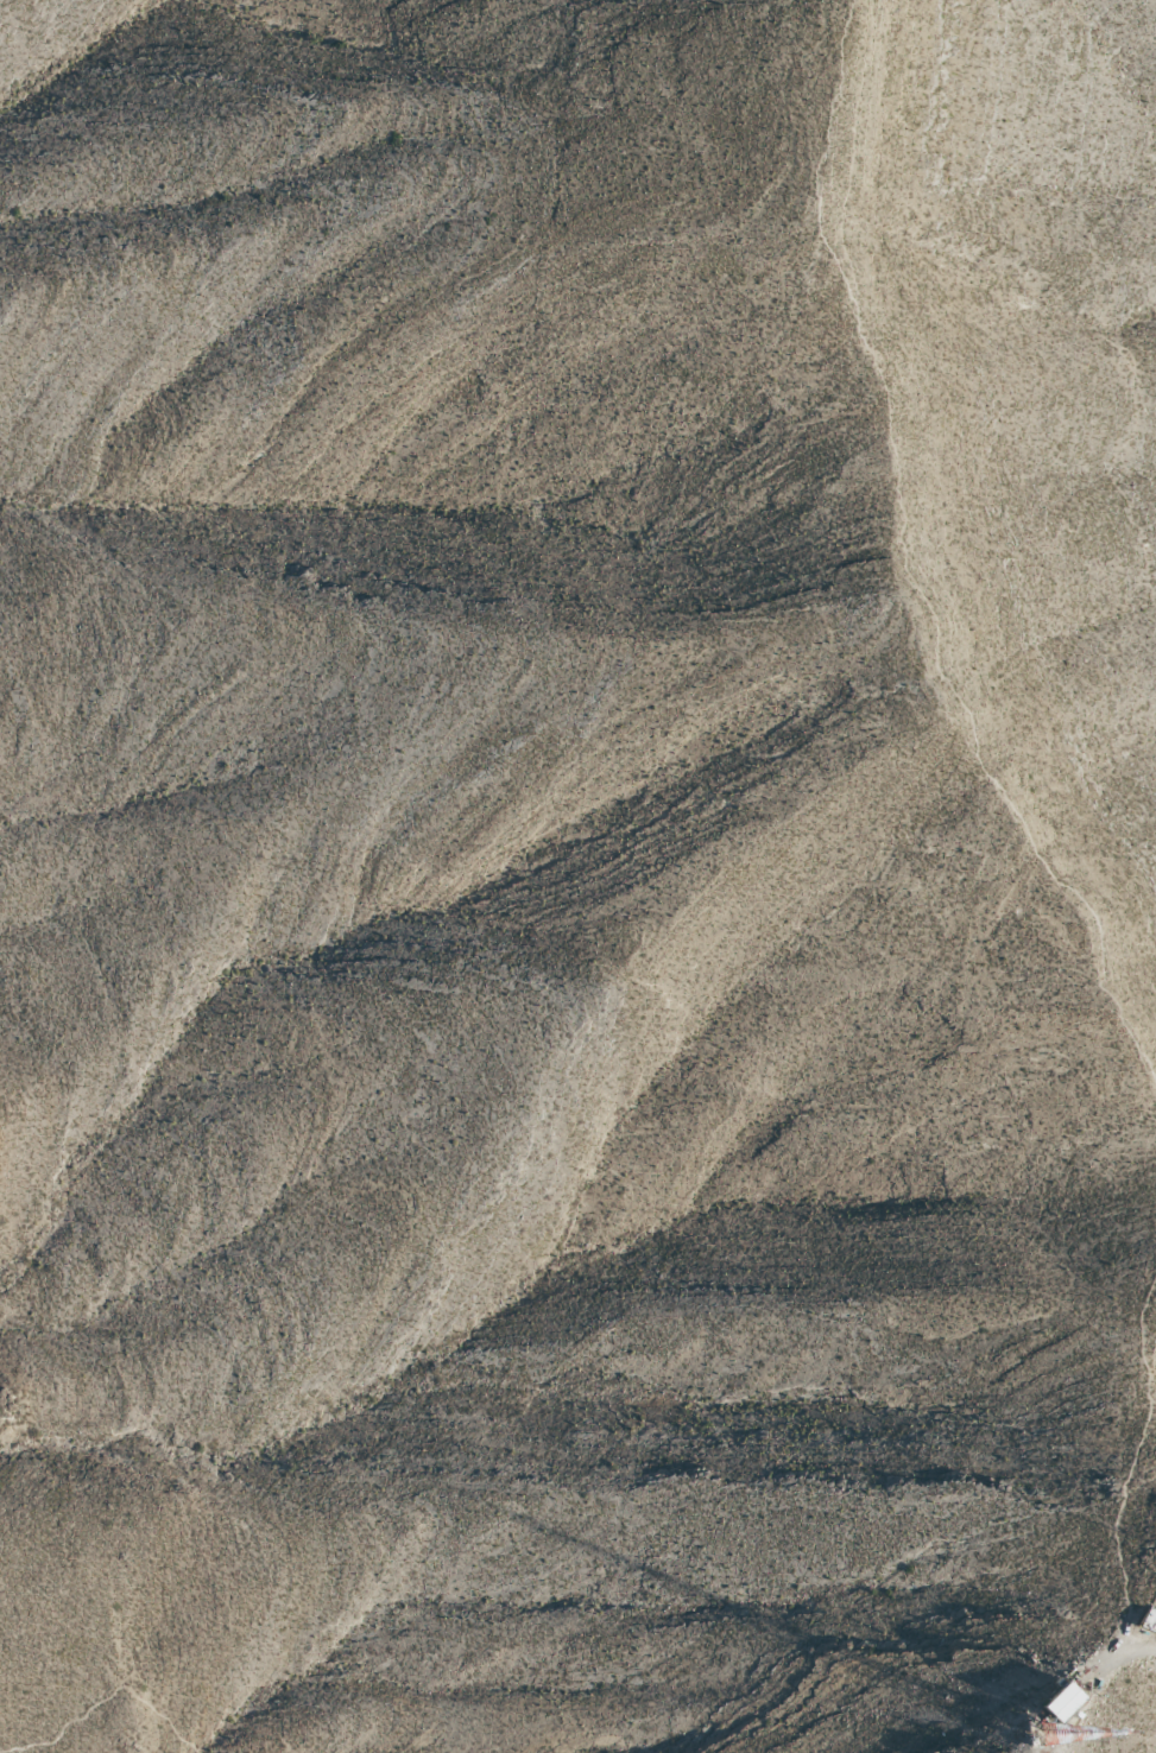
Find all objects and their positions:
road: (1103, 1639)
road: (108, 1697)
building: (1040, 1702)

